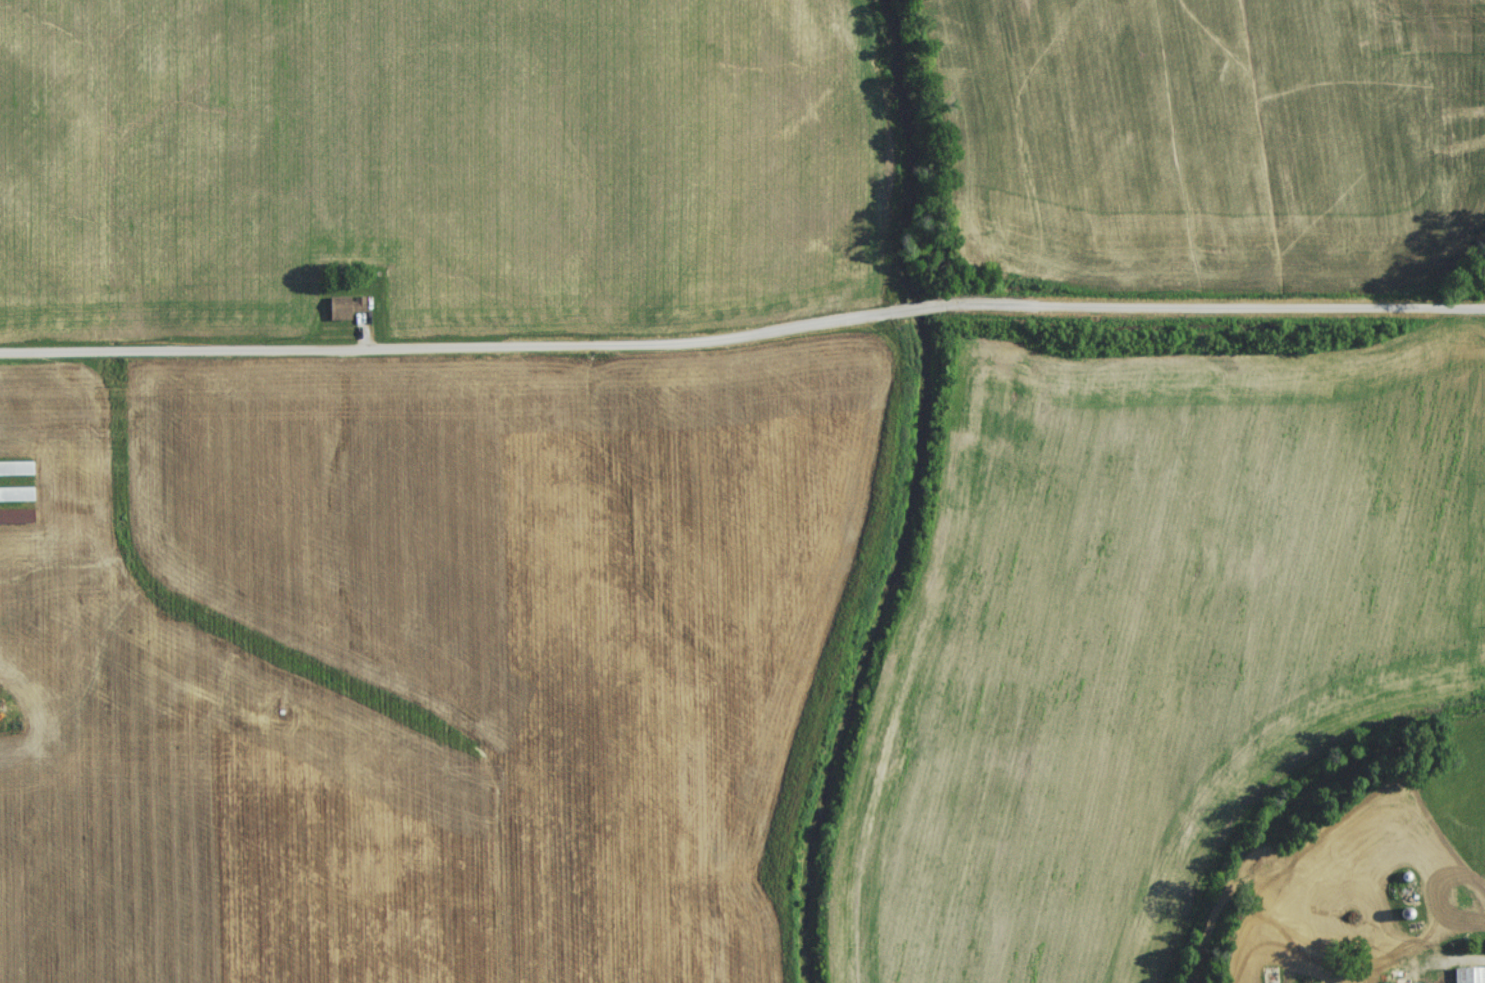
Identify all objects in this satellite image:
building: (345, 311)
road: (743, 333)
building: (16, 471)
building: (17, 498)
building: (17, 520)
building: (1406, 849)
building: (1469, 977)

